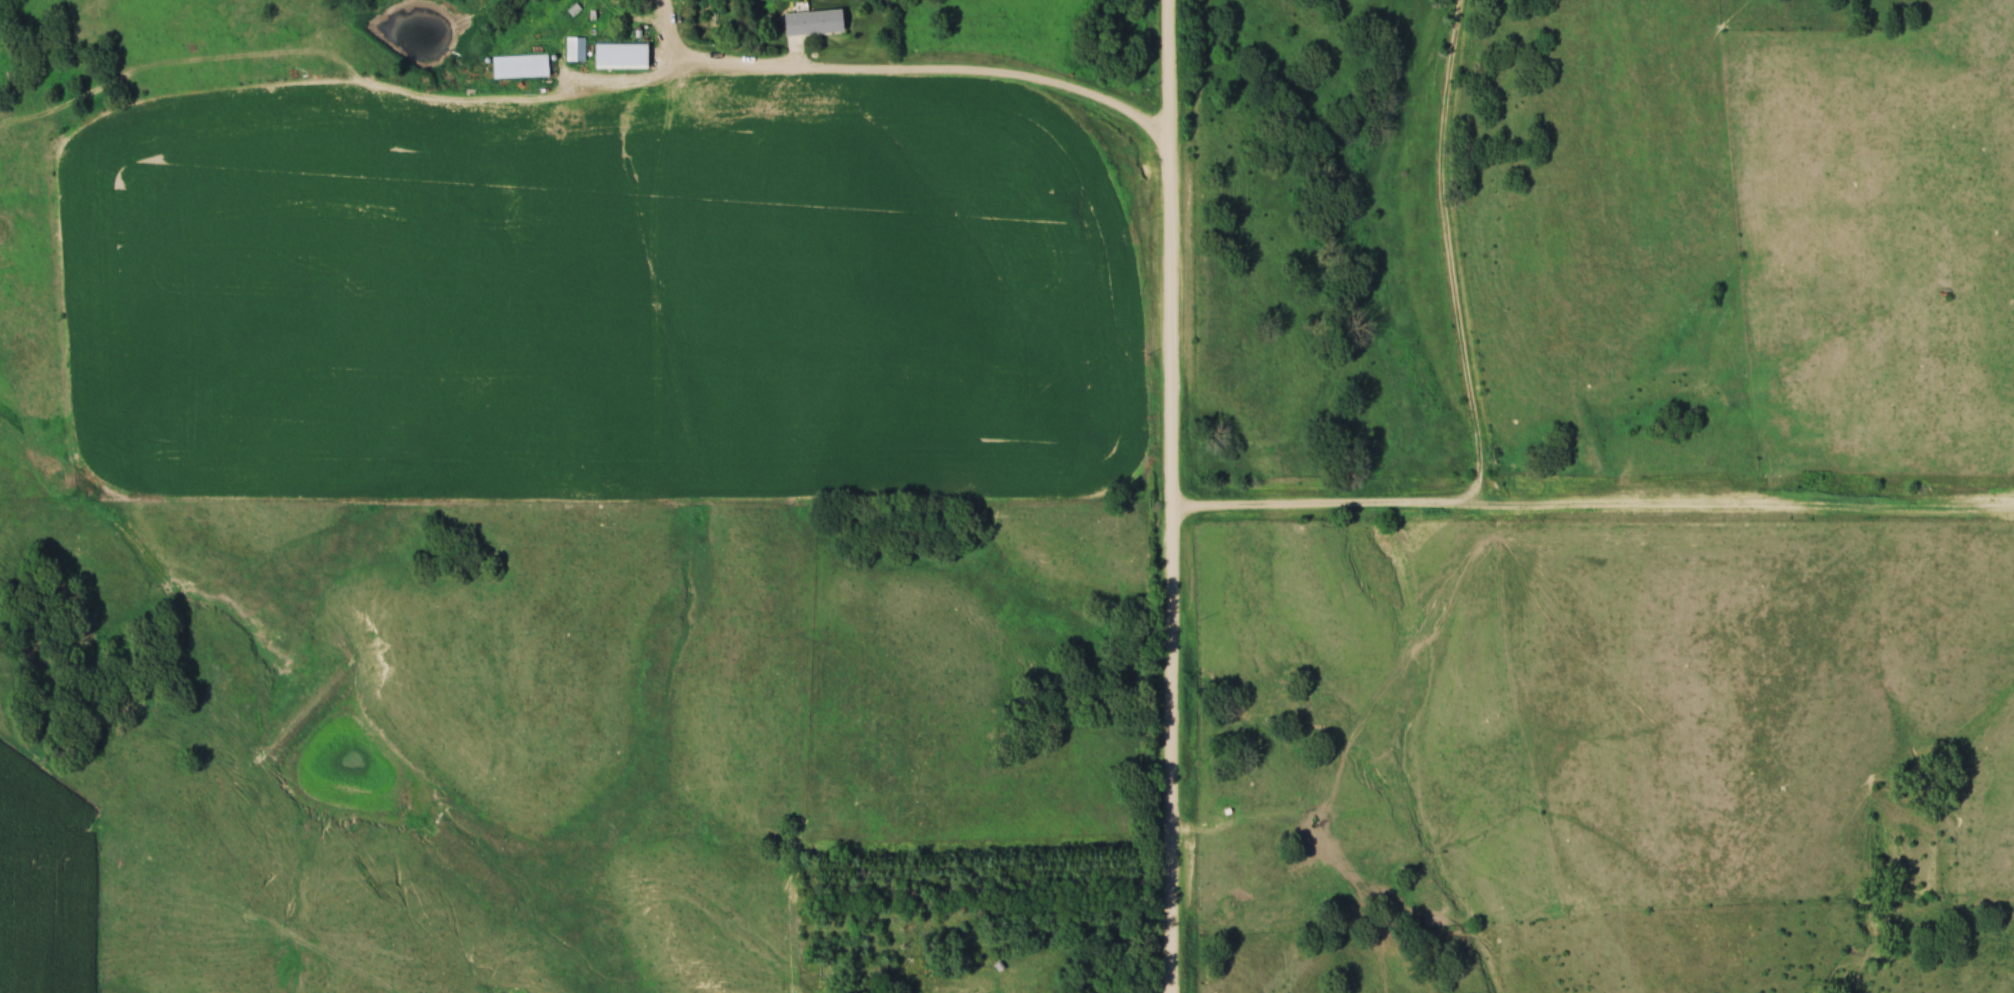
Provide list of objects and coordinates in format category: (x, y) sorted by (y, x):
building: (816, 20)
building: (623, 54)
building: (521, 65)
road: (1171, 72)
road: (1171, 283)
road: (1473, 398)
building: (956, 985)

